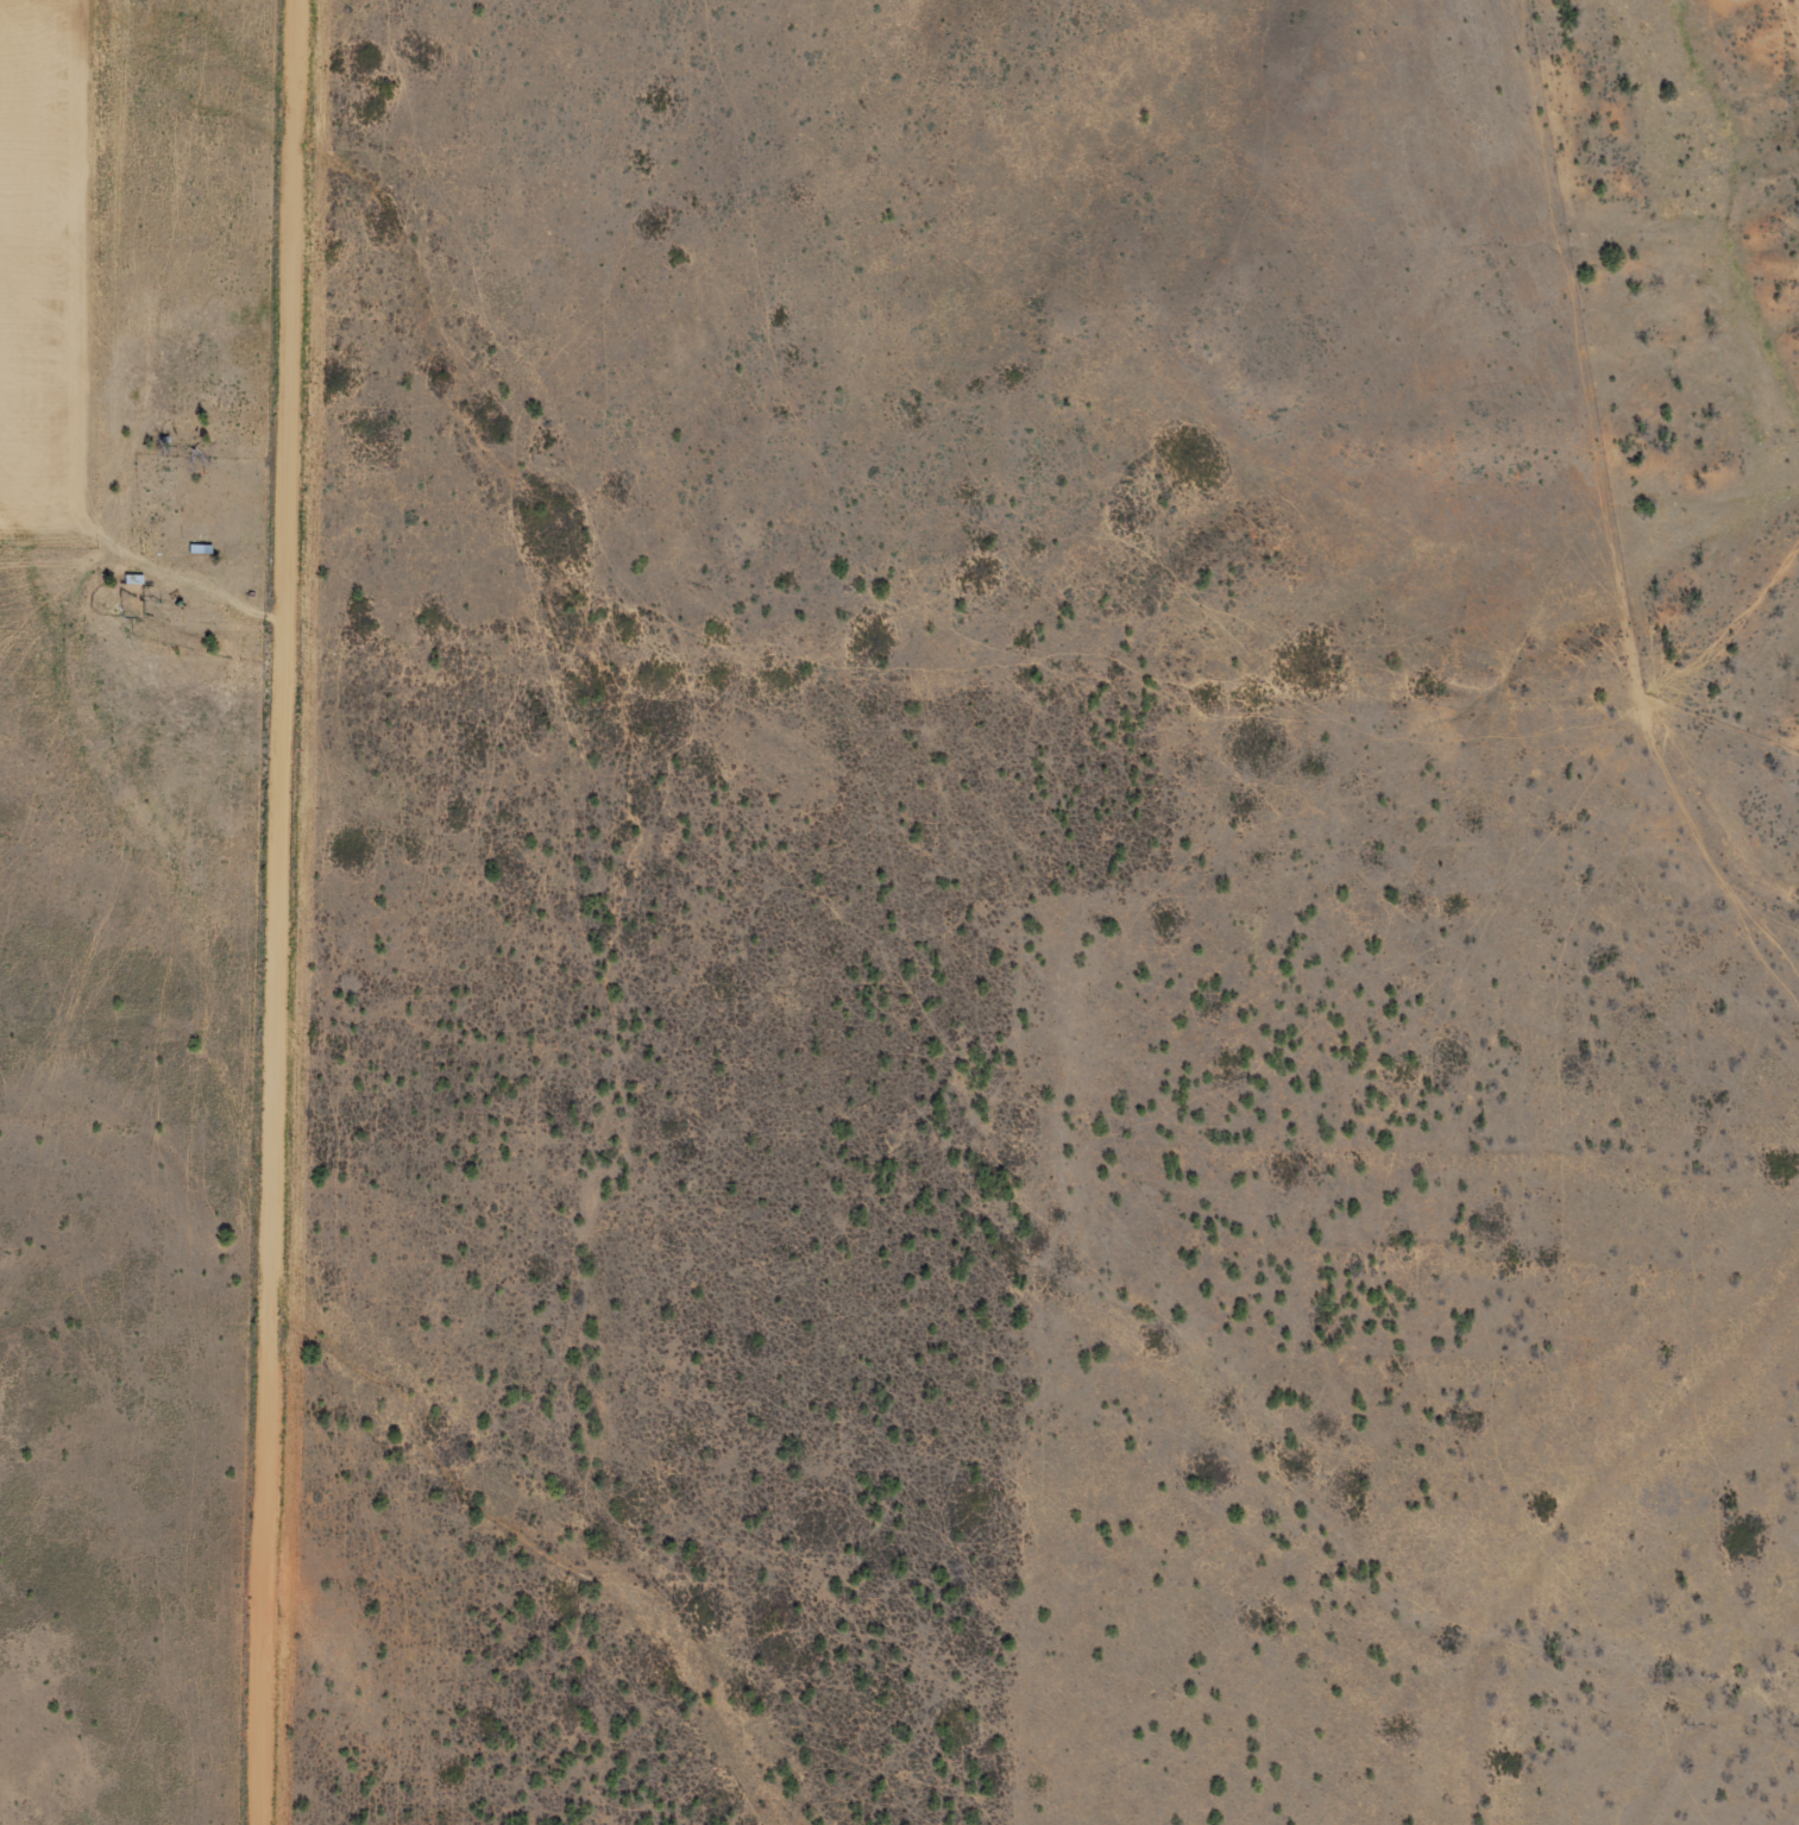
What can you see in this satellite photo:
road: (279, 912)

